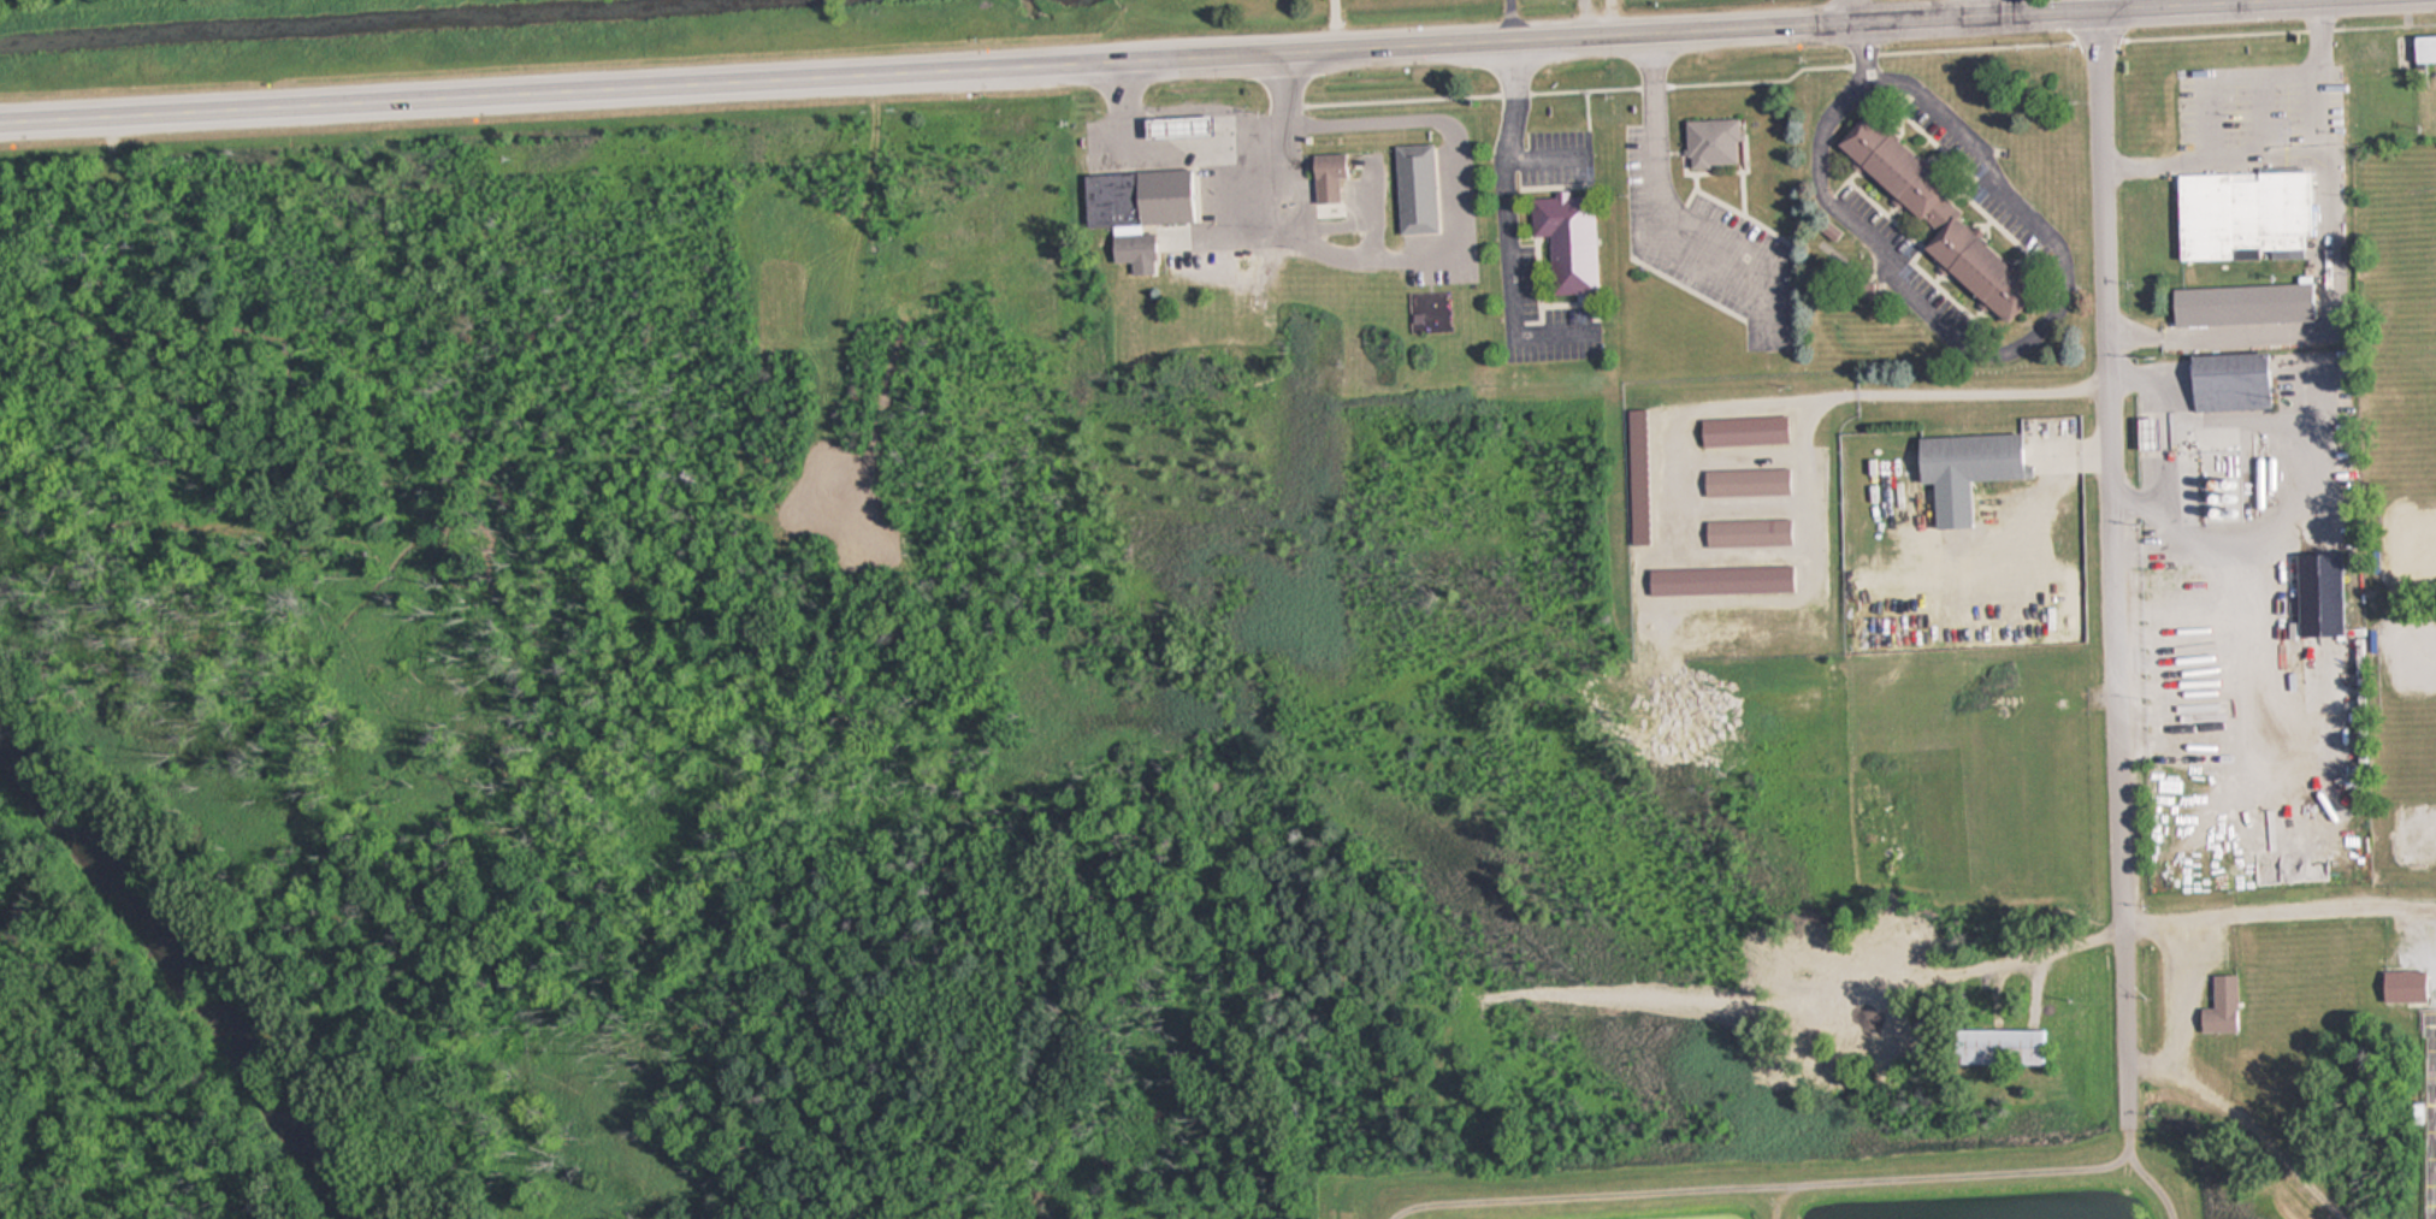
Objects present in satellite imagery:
road: (1845, 10)
road: (2028, 10)
building: (2416, 48)
road: (922, 69)
building: (1171, 126)
building: (1707, 142)
building: (1323, 176)
building: (1412, 188)
building: (1139, 197)
road: (1663, 214)
building: (2239, 214)
building: (1931, 219)
road: (1507, 225)
building: (1563, 239)
building: (2236, 303)
building: (1739, 431)
building: (2144, 432)
building: (1965, 457)
building: (1743, 483)
building: (1745, 533)
road: (2110, 567)
building: (2203, 569)
building: (2314, 594)
river: (183, 977)
building: (2400, 984)
building: (2217, 1006)
building: (1994, 1046)

